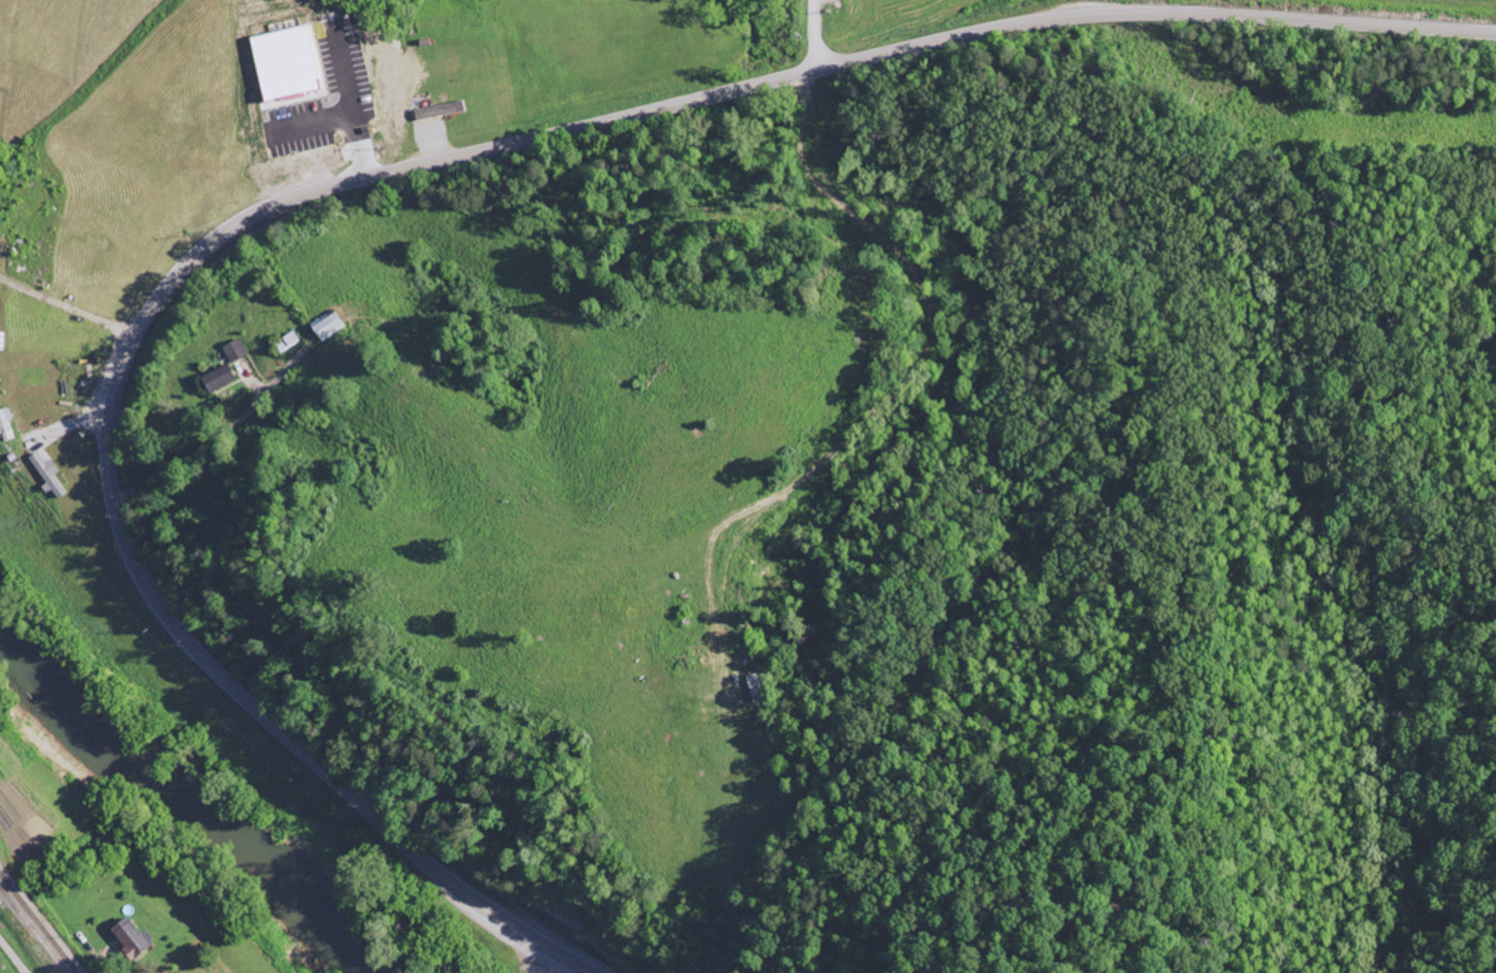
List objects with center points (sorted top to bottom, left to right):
road: (811, 35)
road: (370, 176)
building: (328, 328)
building: (288, 344)
building: (6, 426)
building: (49, 477)
building: (756, 689)
river: (175, 806)
railway: (38, 922)
building: (127, 938)
road: (12, 957)

